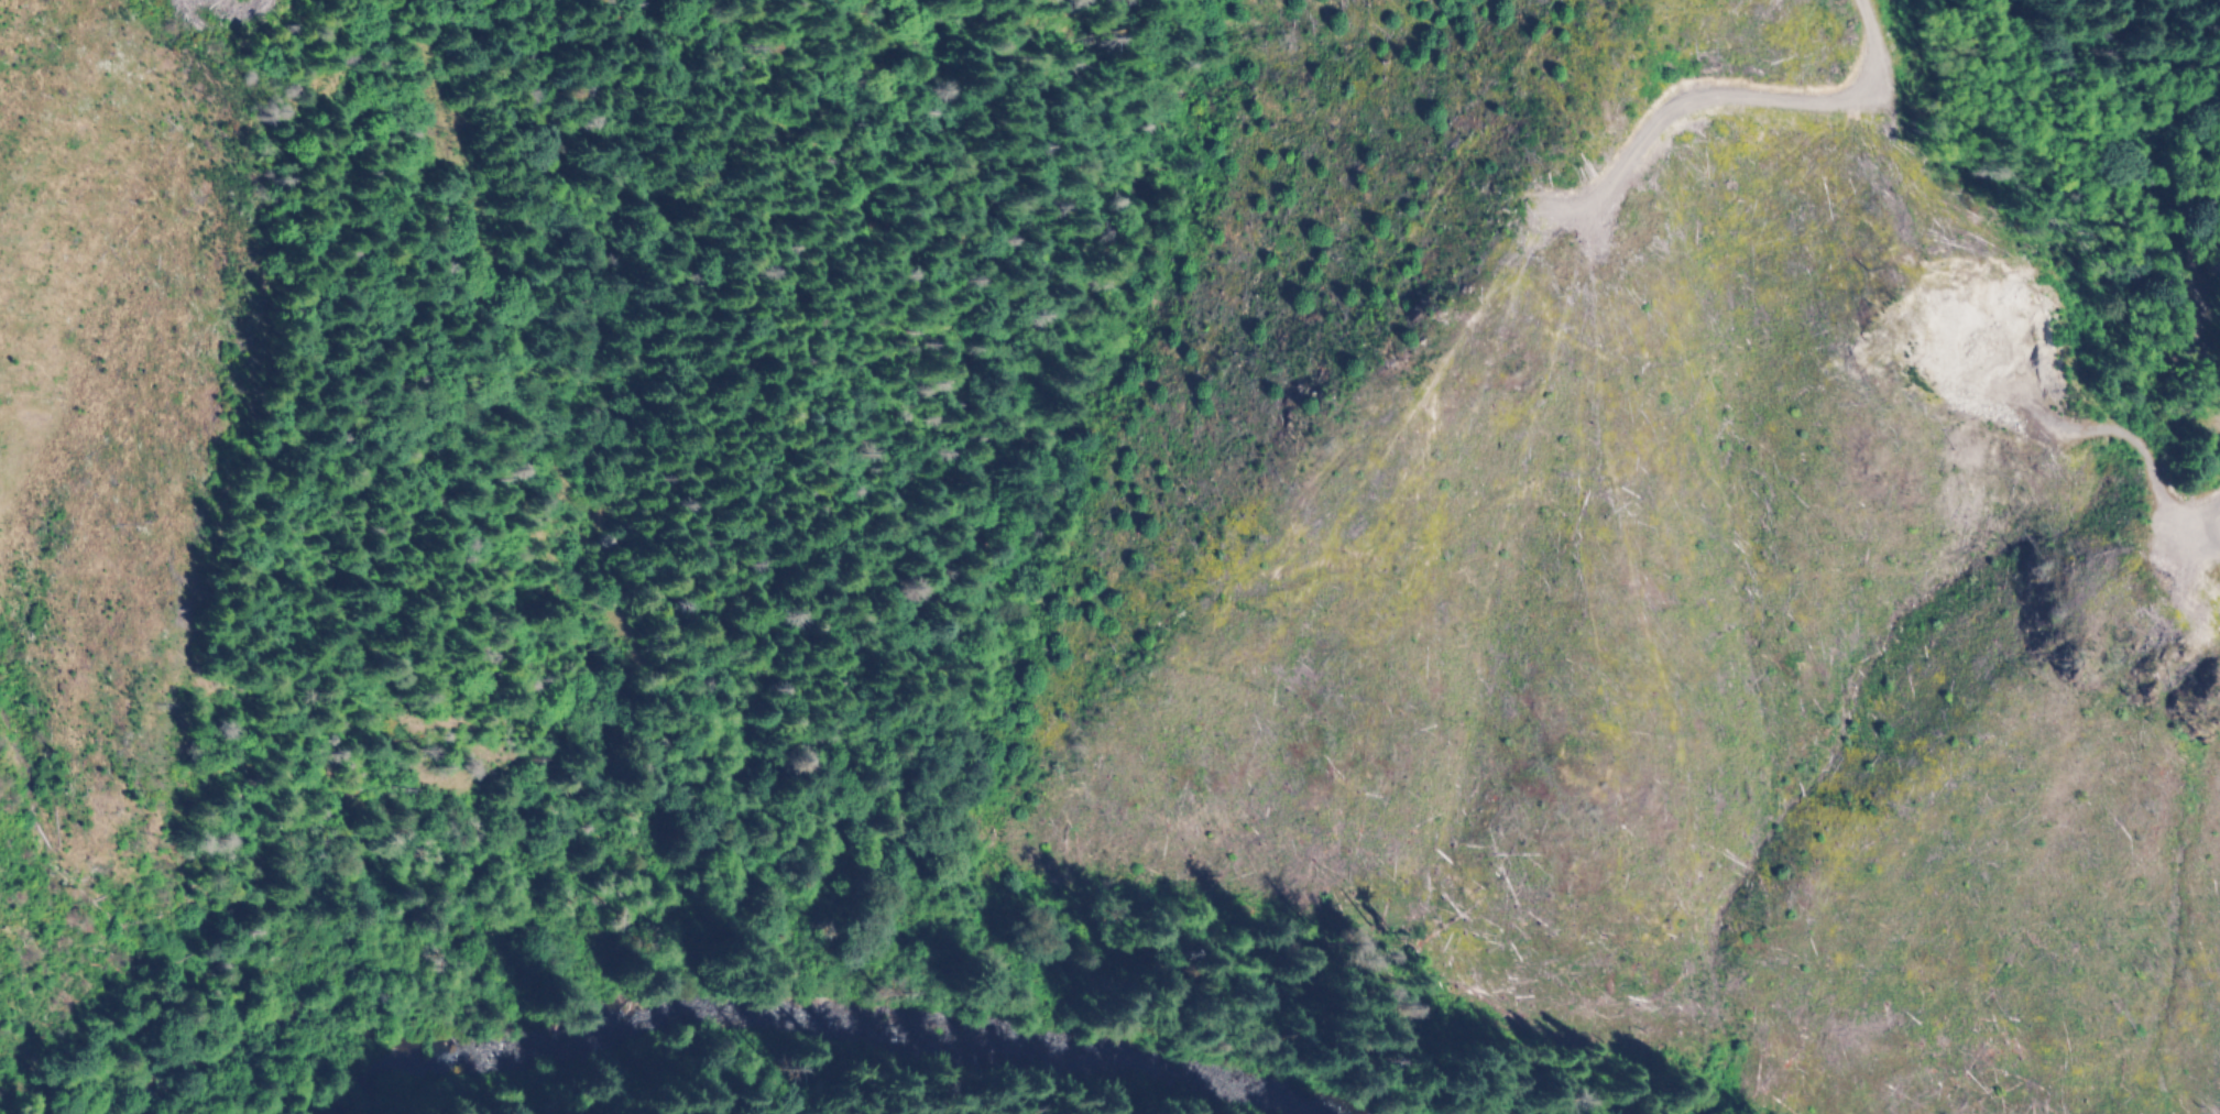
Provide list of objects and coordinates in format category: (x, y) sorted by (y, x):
road: (2124, 432)
road: (2213, 521)

